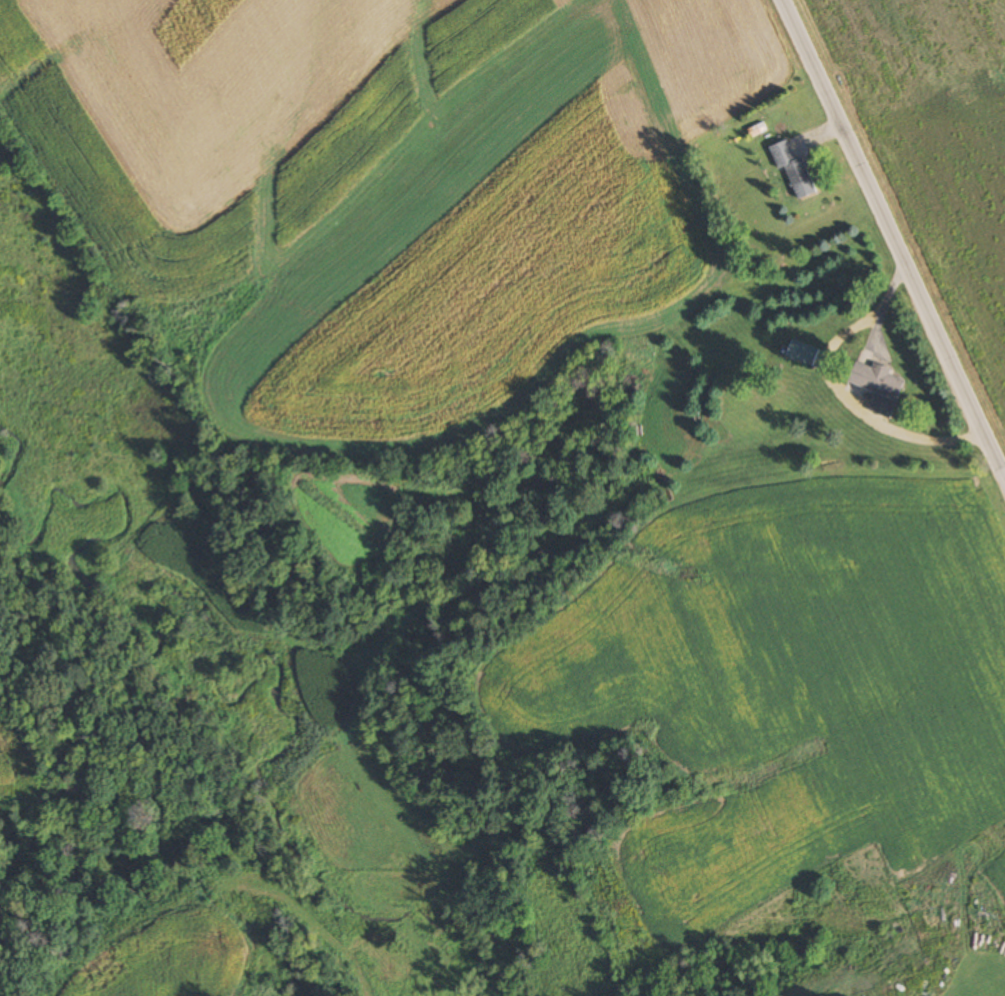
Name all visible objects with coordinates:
building: (793, 169)
road: (893, 242)
building: (801, 353)
building: (879, 388)

